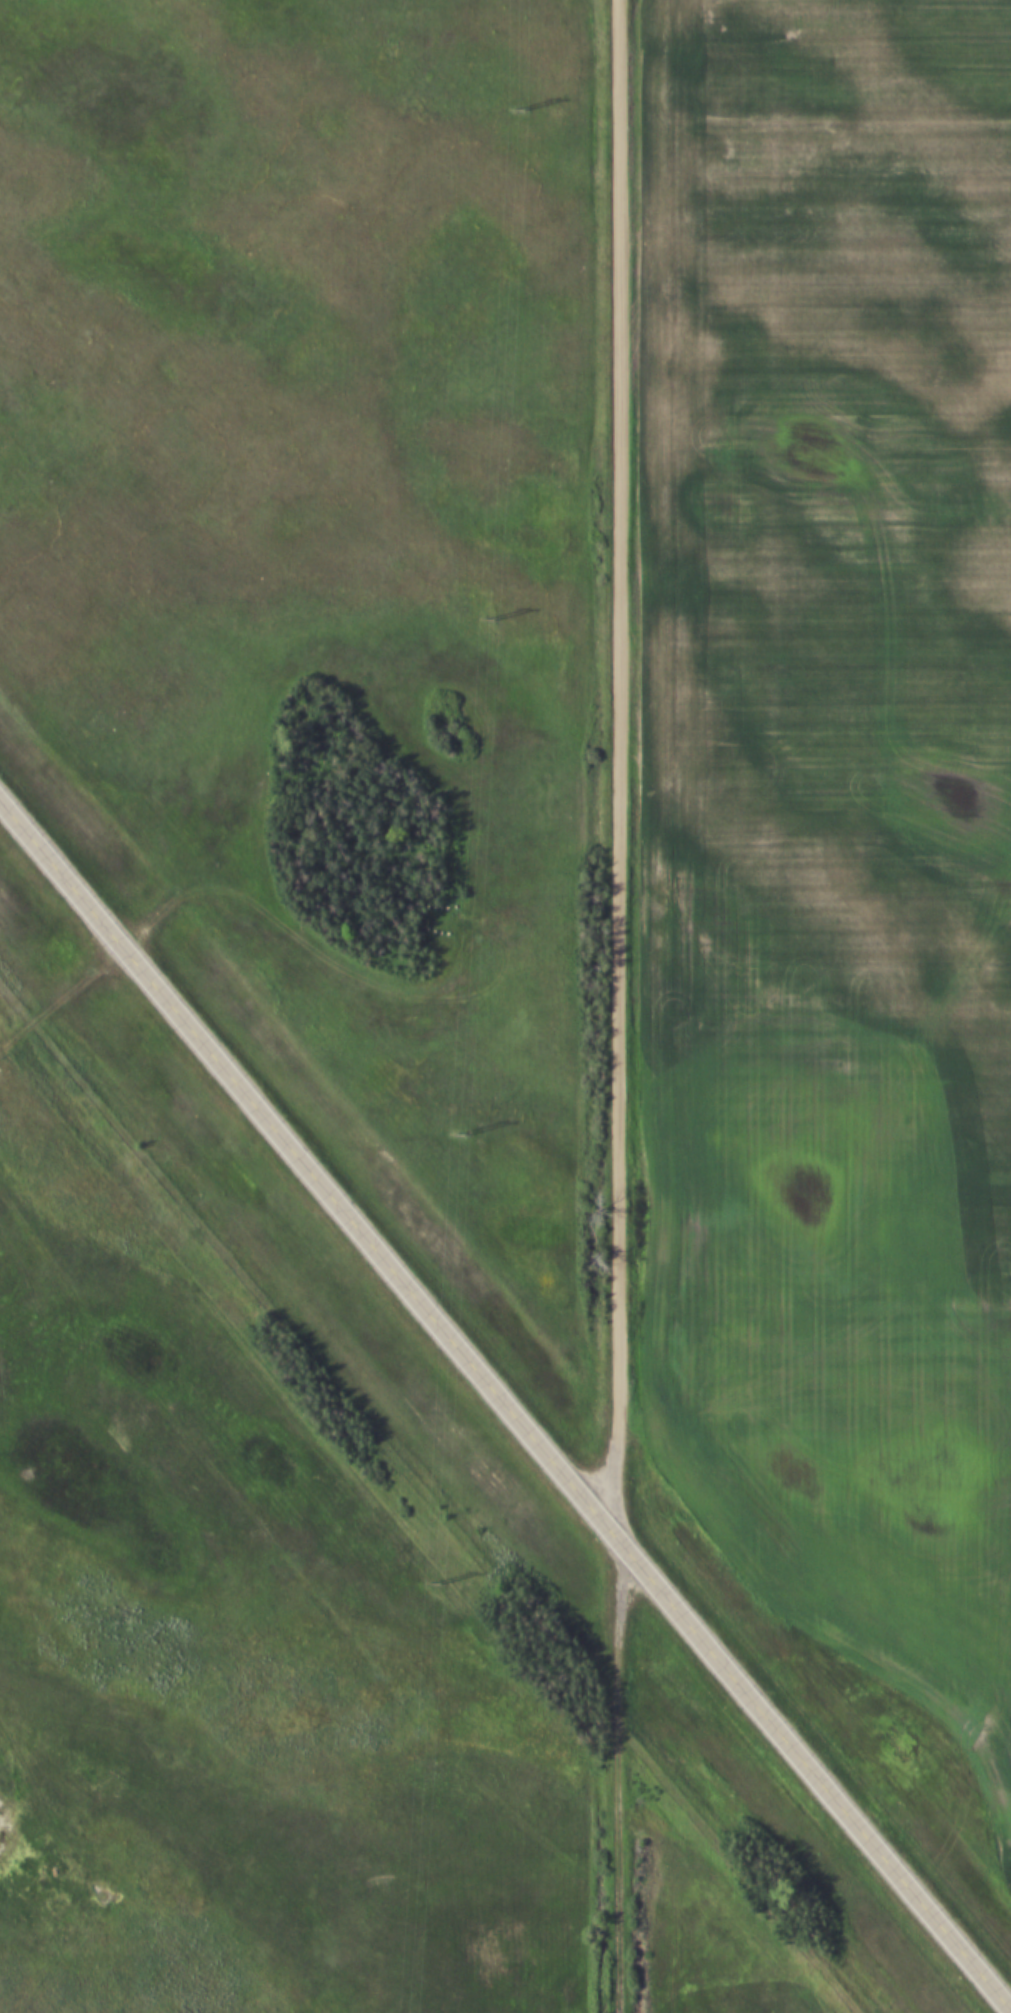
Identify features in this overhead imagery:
power tower: (520, 111)
power tower: (489, 620)
road: (616, 766)
power tower: (461, 1131)
road: (504, 1401)
power tower: (432, 1586)
road: (612, 1772)

